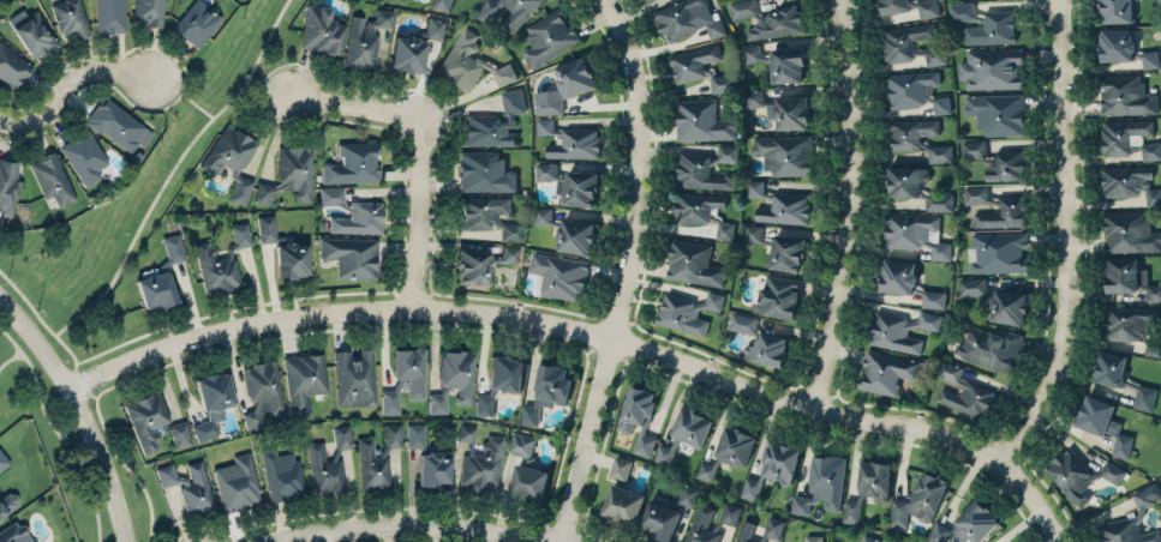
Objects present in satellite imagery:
building: (443, 4)
building: (892, 6)
building: (928, 7)
building: (960, 10)
building: (1115, 11)
building: (149, 12)
building: (109, 16)
building: (71, 17)
building: (515, 17)
building: (687, 18)
building: (767, 18)
building: (196, 23)
building: (433, 28)
building: (992, 28)
building: (321, 30)
building: (32, 32)
building: (547, 36)
building: (365, 38)
building: (903, 40)
building: (1115, 43)
building: (407, 53)
building: (750, 53)
building: (933, 54)
building: (1149, 58)
building: (468, 61)
building: (786, 64)
building: (12, 66)
building: (699, 66)
building: (991, 68)
road: (77, 76)
road: (185, 76)
building: (567, 84)
road: (269, 86)
building: (914, 90)
building: (1125, 95)
building: (754, 97)
building: (789, 112)
building: (997, 113)
building: (701, 120)
building: (493, 122)
road: (10, 125)
building: (118, 126)
building: (1123, 134)
building: (917, 137)
building: (570, 139)
road: (418, 150)
building: (1151, 150)
building: (784, 153)
building: (84, 157)
building: (231, 159)
building: (995, 159)
building: (352, 163)
building: (706, 168)
building: (484, 170)
building: (289, 174)
building: (52, 179)
building: (1130, 182)
building: (570, 183)
building: (7, 186)
building: (916, 186)
road: (162, 187)
building: (779, 204)
road: (846, 206)
building: (1012, 207)
building: (702, 211)
building: (352, 213)
building: (487, 215)
building: (267, 227)
building: (568, 230)
building: (915, 233)
building: (1130, 233)
building: (240, 234)
road: (1066, 240)
building: (778, 248)
building: (1000, 253)
building: (508, 254)
building: (351, 257)
building: (291, 259)
building: (693, 263)
building: (472, 266)
building: (215, 270)
road: (624, 271)
building: (559, 273)
building: (161, 277)
building: (1130, 277)
building: (908, 282)
road: (1083, 284)
building: (971, 285)
building: (777, 295)
road: (28, 301)
building: (1007, 306)
building: (687, 311)
building: (742, 321)
building: (1131, 325)
road: (571, 327)
building: (899, 330)
road: (12, 339)
building: (989, 347)
building: (767, 348)
road: (743, 369)
building: (886, 371)
building: (457, 373)
road: (34, 377)
building: (405, 378)
building: (304, 379)
building: (354, 379)
building: (1123, 379)
building: (499, 381)
building: (262, 391)
building: (547, 391)
building: (963, 391)
road: (85, 392)
building: (437, 402)
building: (211, 403)
road: (84, 405)
road: (941, 415)
building: (638, 418)
building: (152, 421)
building: (1103, 422)
building: (683, 433)
building: (415, 435)
building: (342, 436)
building: (522, 445)
building: (735, 445)
building: (377, 458)
building: (479, 459)
building: (2, 460)
road: (126, 464)
building: (620, 466)
building: (433, 468)
building: (324, 469)
road: (85, 470)
building: (706, 470)
building: (771, 470)
building: (166, 474)
building: (281, 474)
building: (1081, 474)
building: (237, 483)
building: (529, 483)
building: (822, 483)
building: (868, 488)
building: (197, 490)
building: (1147, 494)
building: (920, 500)
building: (7, 504)
building: (623, 504)
building: (668, 513)
building: (728, 514)
building: (966, 524)
road: (1048, 524)
building: (702, 525)
road: (408, 526)
building: (773, 526)
building: (744, 531)
building: (1126, 531)
building: (14, 532)
building: (813, 537)
building: (869, 538)

